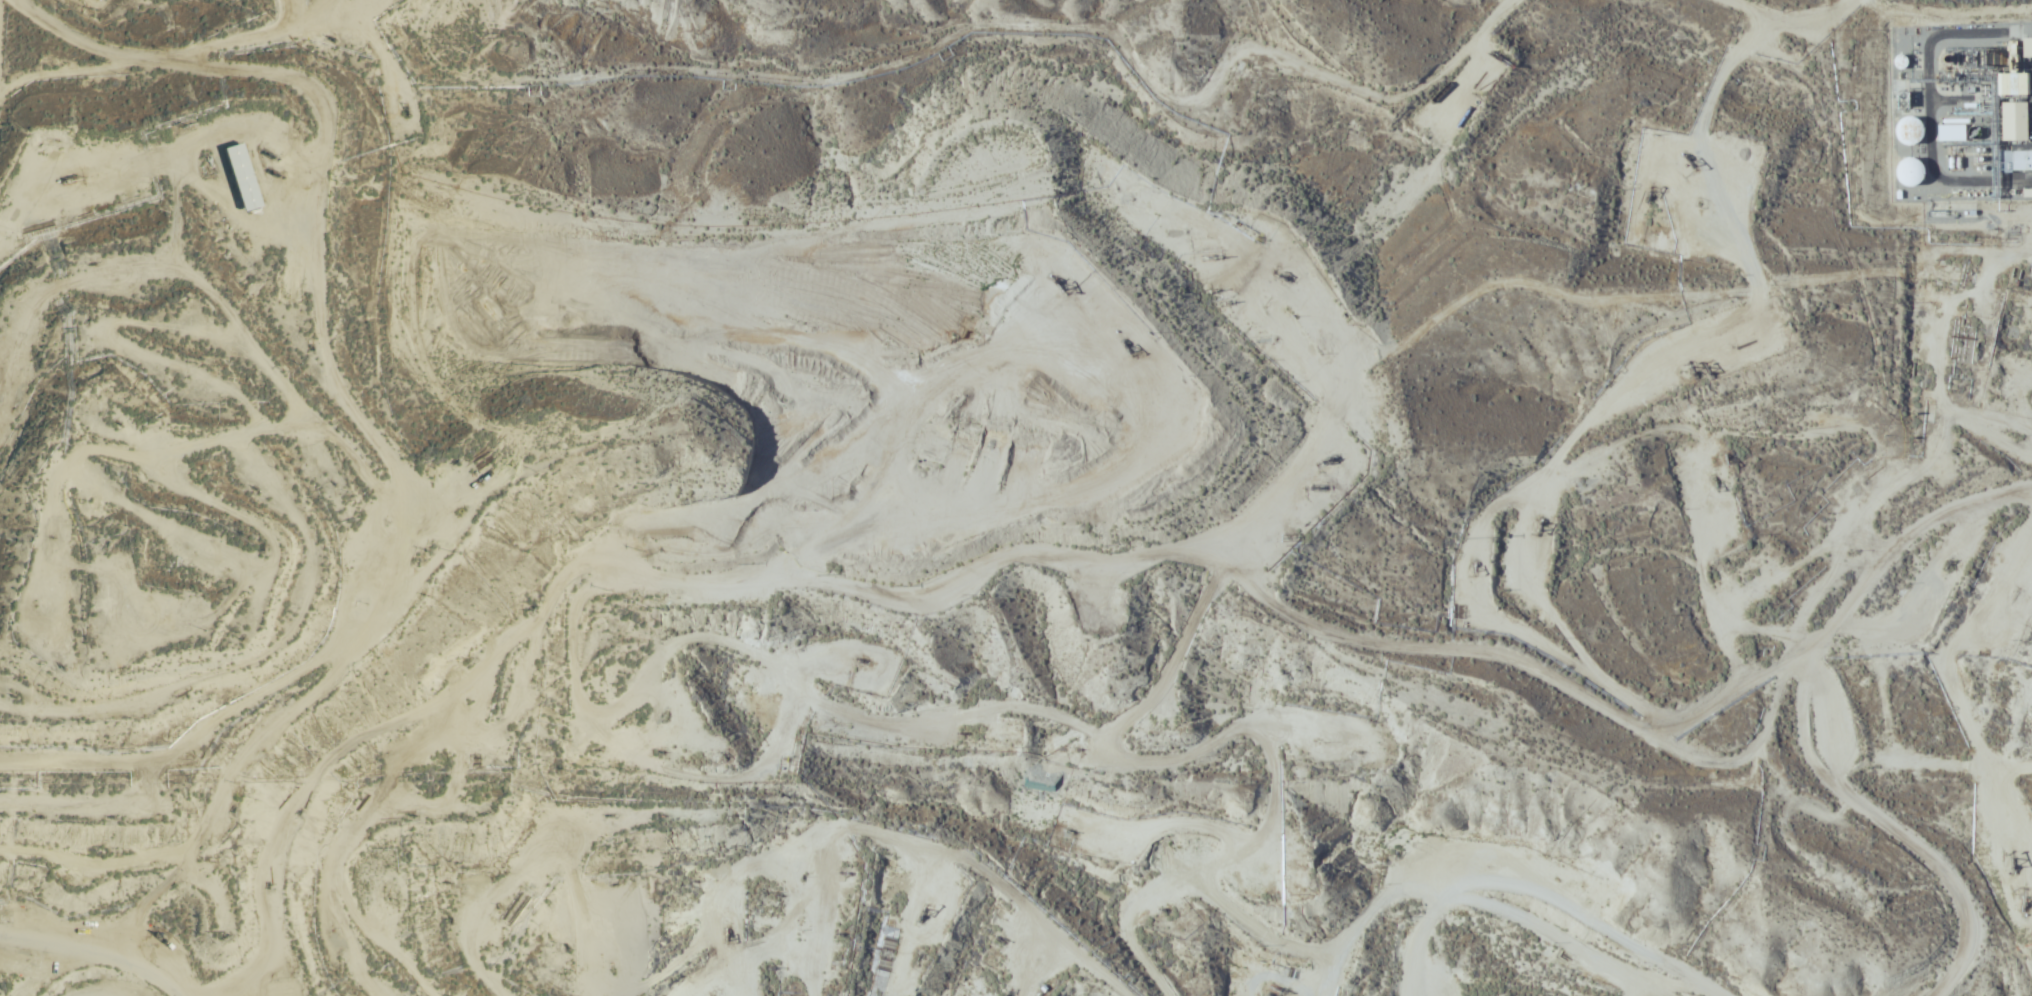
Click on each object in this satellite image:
building: (2018, 85)
building: (2019, 121)
building: (1908, 130)
building: (1953, 132)
building: (2019, 161)
building: (1909, 171)
building: (243, 176)
road: (322, 245)
road: (1809, 721)
road: (877, 835)
road: (1544, 892)
road: (82, 963)

